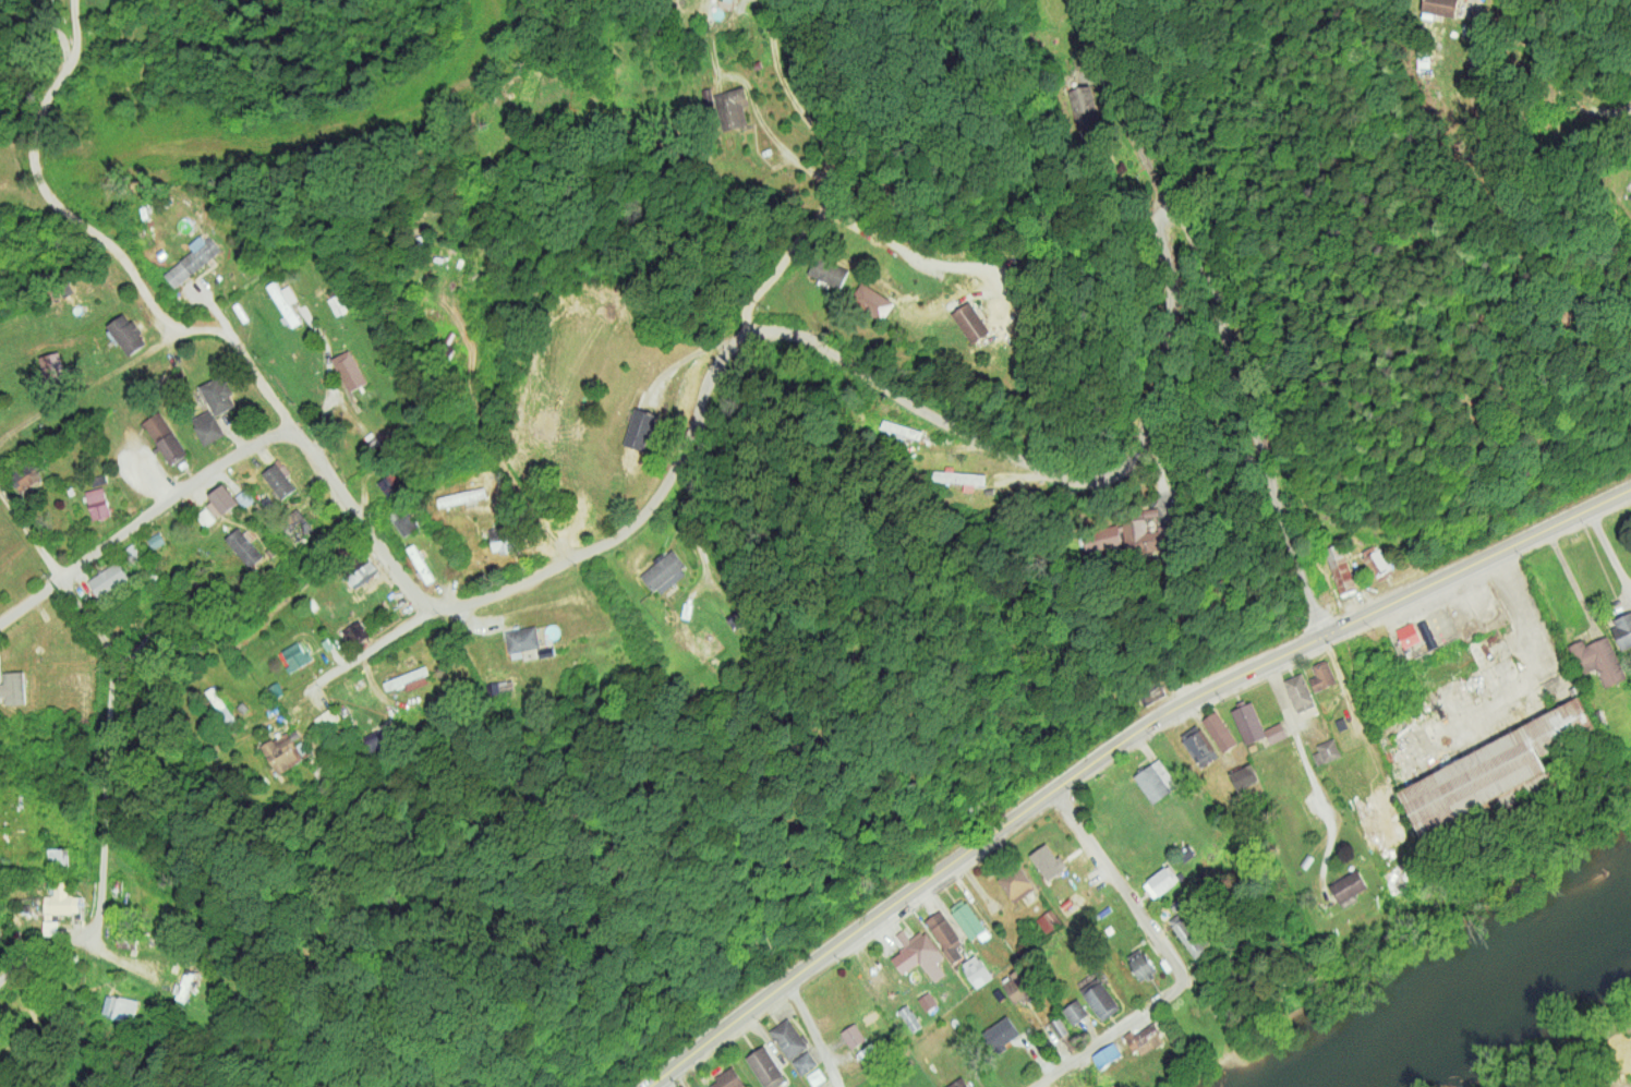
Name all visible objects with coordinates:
building: (729, 0)
building: (1440, 7)
road: (27, 64)
building: (728, 106)
building: (1084, 111)
road: (827, 170)
road: (40, 184)
building: (1629, 196)
road: (879, 243)
building: (192, 259)
building: (827, 271)
building: (285, 301)
building: (871, 301)
building: (970, 322)
building: (125, 334)
road: (1157, 334)
building: (51, 366)
building: (348, 370)
road: (86, 390)
building: (217, 395)
building: (207, 426)
building: (639, 428)
building: (901, 428)
building: (165, 439)
road: (309, 450)
building: (22, 478)
building: (279, 479)
building: (961, 479)
building: (390, 485)
building: (220, 502)
building: (97, 503)
building: (401, 521)
road: (631, 522)
road: (144, 524)
building: (297, 526)
road: (32, 530)
building: (1126, 535)
building: (499, 539)
building: (155, 540)
building: (245, 545)
road: (1608, 553)
building: (420, 563)
building: (1376, 564)
building: (1340, 569)
building: (361, 571)
building: (663, 572)
building: (107, 579)
building: (354, 632)
building: (1622, 632)
building: (1406, 636)
building: (521, 639)
road: (367, 650)
building: (294, 655)
building: (1596, 661)
building: (1320, 678)
building: (408, 679)
building: (13, 687)
building: (499, 687)
building: (1156, 692)
building: (1297, 695)
road: (1358, 720)
building: (1247, 724)
building: (1218, 732)
building: (377, 739)
building: (1198, 745)
road: (1116, 749)
building: (286, 750)
building: (1328, 750)
building: (1501, 773)
road: (1312, 774)
building: (1244, 776)
building: (1156, 781)
road: (105, 799)
building: (1384, 826)
building: (58, 857)
building: (1047, 861)
building: (1305, 862)
building: (1391, 875)
building: (1015, 882)
building: (1159, 882)
road: (1121, 885)
building: (1346, 886)
building: (59, 901)
building: (966, 918)
building: (1048, 920)
building: (50, 927)
building: (944, 934)
building: (1191, 937)
building: (918, 954)
building: (1140, 964)
building: (976, 970)
building: (1017, 985)
river: (1475, 985)
building: (190, 986)
building: (1099, 999)
building: (927, 1001)
building: (120, 1006)
building: (1074, 1011)
building: (1059, 1026)
building: (1001, 1034)
road: (1111, 1034)
road: (812, 1035)
building: (853, 1035)
building: (788, 1038)
building: (1145, 1038)
building: (1106, 1054)
building: (804, 1063)
building: (765, 1067)
building: (816, 1076)
road: (678, 1077)
building: (727, 1079)
building: (957, 1083)

